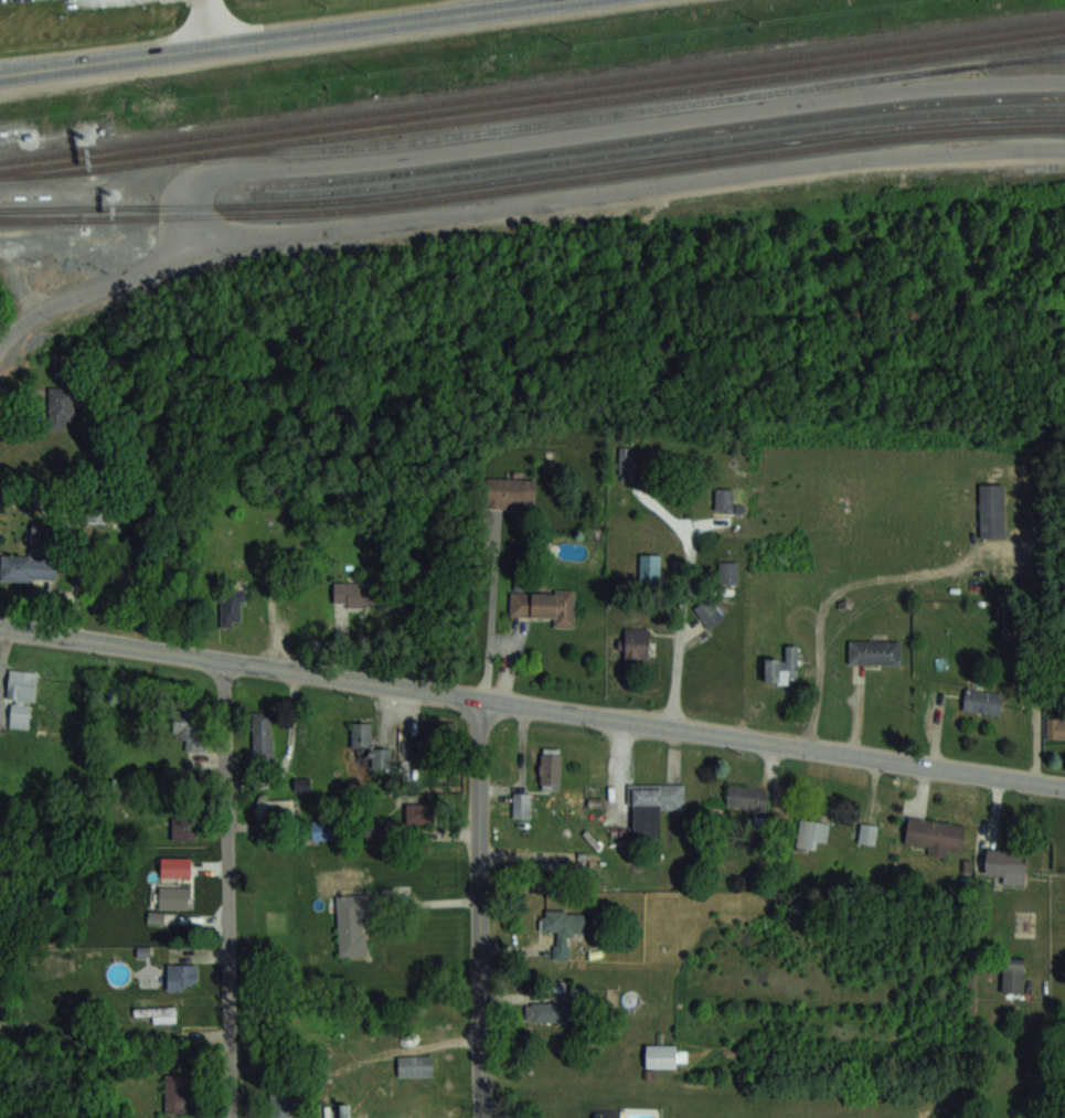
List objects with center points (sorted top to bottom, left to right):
road: (212, 21)
road: (265, 34)
railway: (1030, 61)
railway: (532, 90)
railway: (532, 99)
railway: (532, 110)
railway: (629, 110)
road: (604, 130)
railway: (650, 138)
railway: (650, 148)
railway: (533, 174)
railway: (533, 185)
road: (519, 202)
railway: (36, 217)
building: (61, 407)
building: (637, 461)
building: (510, 491)
building: (724, 499)
building: (991, 510)
building: (649, 566)
building: (28, 568)
building: (727, 572)
road: (833, 590)
building: (356, 595)
building: (544, 606)
road: (491, 607)
building: (227, 609)
building: (709, 611)
road: (682, 629)
building: (636, 643)
building: (874, 650)
road: (512, 664)
building: (781, 666)
building: (21, 698)
building: (982, 701)
road: (532, 706)
building: (1055, 726)
building: (189, 727)
building: (263, 735)
building: (364, 741)
building: (435, 742)
building: (301, 782)
building: (746, 797)
building: (652, 806)
building: (275, 811)
building: (184, 826)
building: (320, 830)
building: (867, 832)
building: (811, 833)
building: (934, 834)
building: (1005, 864)
road: (226, 891)
road: (430, 902)
road: (479, 908)
building: (351, 925)
building: (562, 928)
building: (1012, 973)
building: (181, 976)
building: (153, 1012)
building: (549, 1012)
building: (665, 1055)
building: (411, 1065)
building: (175, 1092)
building: (281, 1105)

